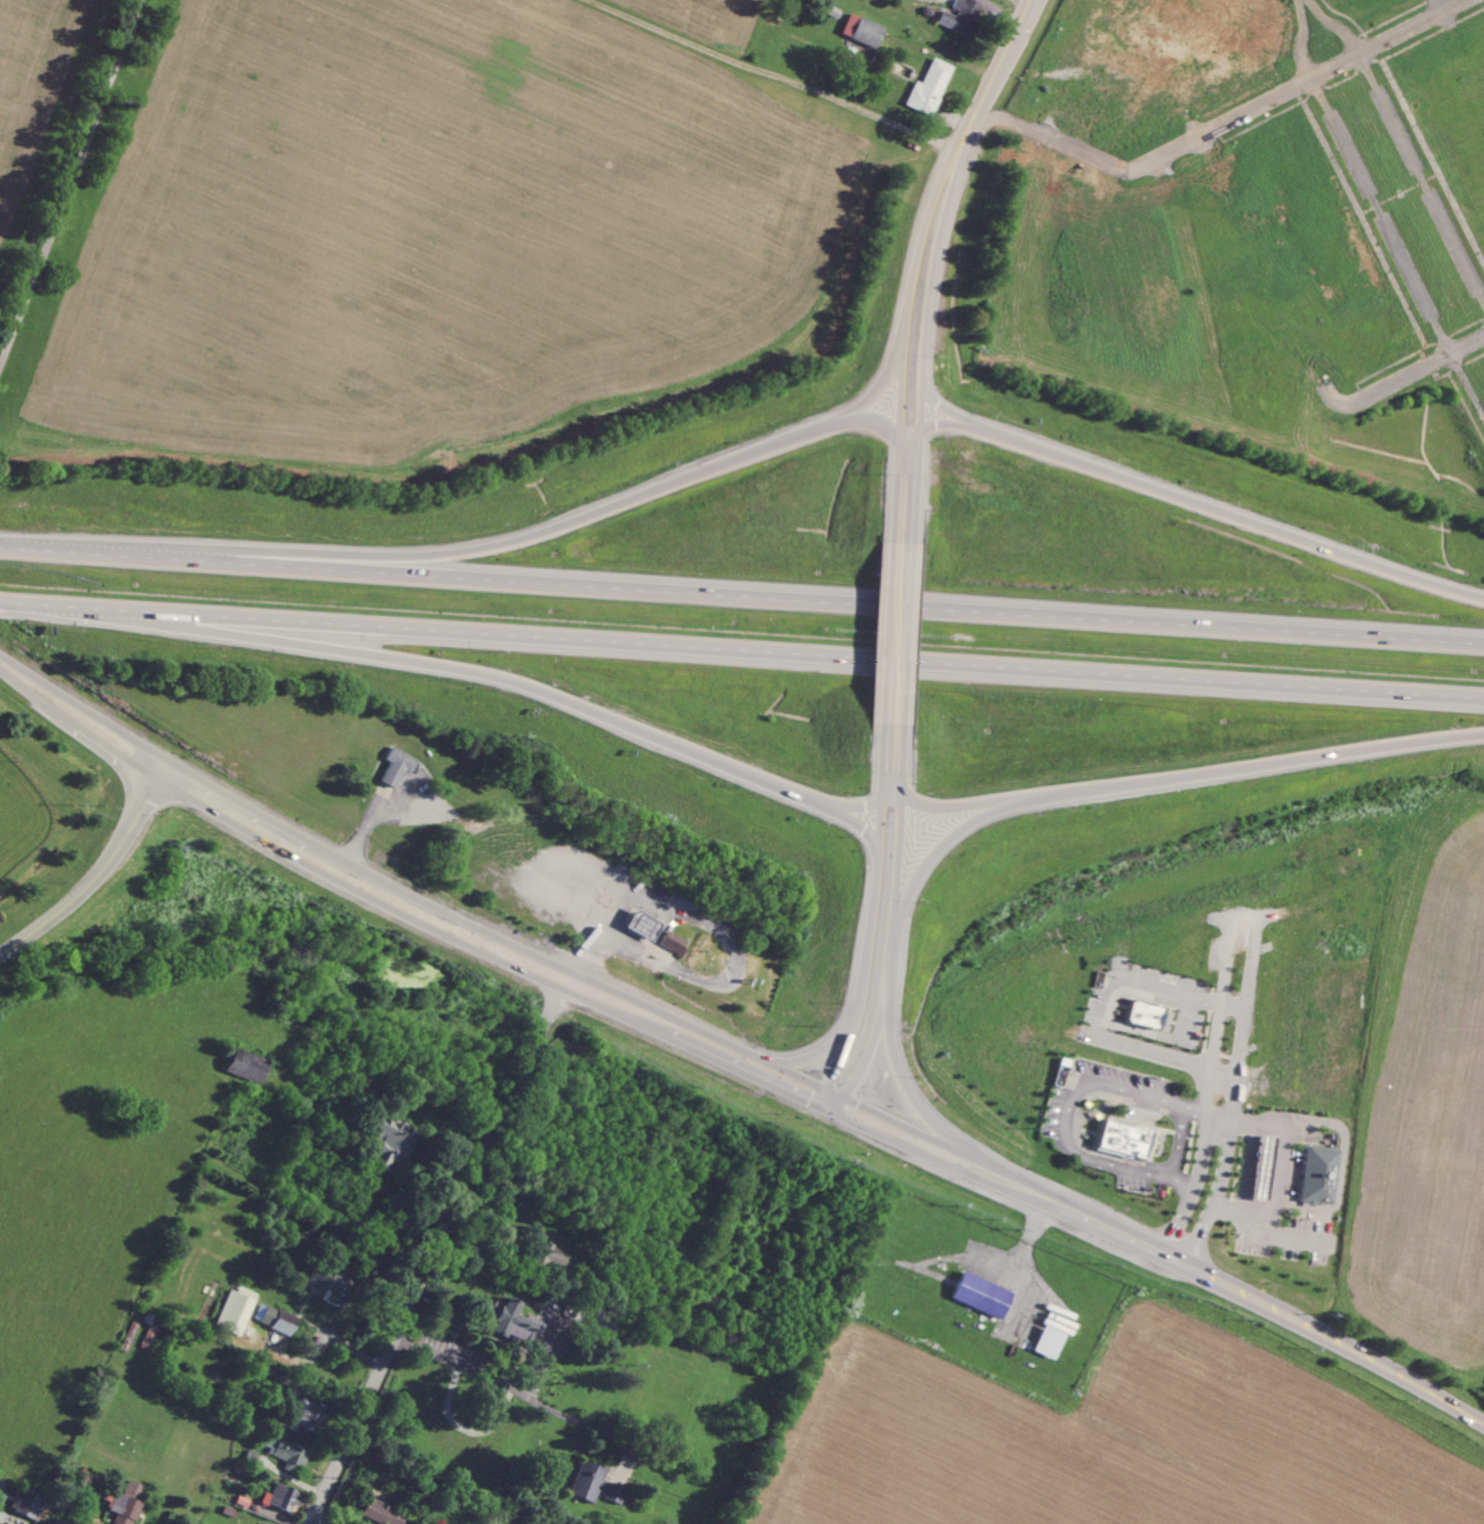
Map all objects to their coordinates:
building: (962, 16)
road: (1335, 25)
building: (865, 30)
road: (1302, 39)
road: (773, 74)
road: (1296, 85)
building: (931, 87)
road: (1421, 175)
road: (69, 181)
road: (937, 211)
road: (1398, 245)
road: (1405, 375)
road: (862, 423)
road: (940, 427)
road: (906, 492)
road: (1183, 499)
road: (520, 540)
road: (741, 592)
road: (897, 635)
road: (742, 653)
road: (498, 679)
road: (83, 717)
building: (400, 765)
road: (1151, 779)
road: (850, 805)
road: (957, 806)
road: (883, 852)
road: (96, 876)
road: (445, 923)
road: (594, 924)
building: (645, 925)
gas station: (645, 925)
road: (1228, 936)
building: (671, 940)
road: (737, 970)
road: (1232, 1006)
building: (1144, 1014)
road: (1097, 1024)
road: (862, 1042)
road: (823, 1051)
building: (249, 1065)
road: (783, 1080)
road: (915, 1098)
traffic signals: (834, 1104)
road: (1195, 1110)
road: (1066, 1126)
building: (1125, 1138)
building: (392, 1143)
road: (1178, 1143)
road: (1344, 1166)
building: (1263, 1169)
gas station: (1263, 1169)
road: (1275, 1170)
building: (1321, 1175)
road: (1218, 1193)
road: (1181, 1215)
road: (1281, 1236)
road: (435, 1251)
road: (1175, 1254)
building: (548, 1255)
road: (1162, 1256)
building: (331, 1286)
building: (981, 1296)
building: (238, 1310)
building: (276, 1318)
building: (515, 1319)
building: (153, 1336)
building: (1050, 1342)
road: (494, 1379)
building: (308, 1414)
road: (584, 1423)
building: (288, 1453)
building: (596, 1484)
building: (284, 1498)
building: (127, 1503)
building: (28, 1504)
building: (384, 1513)
building: (267, 1523)

